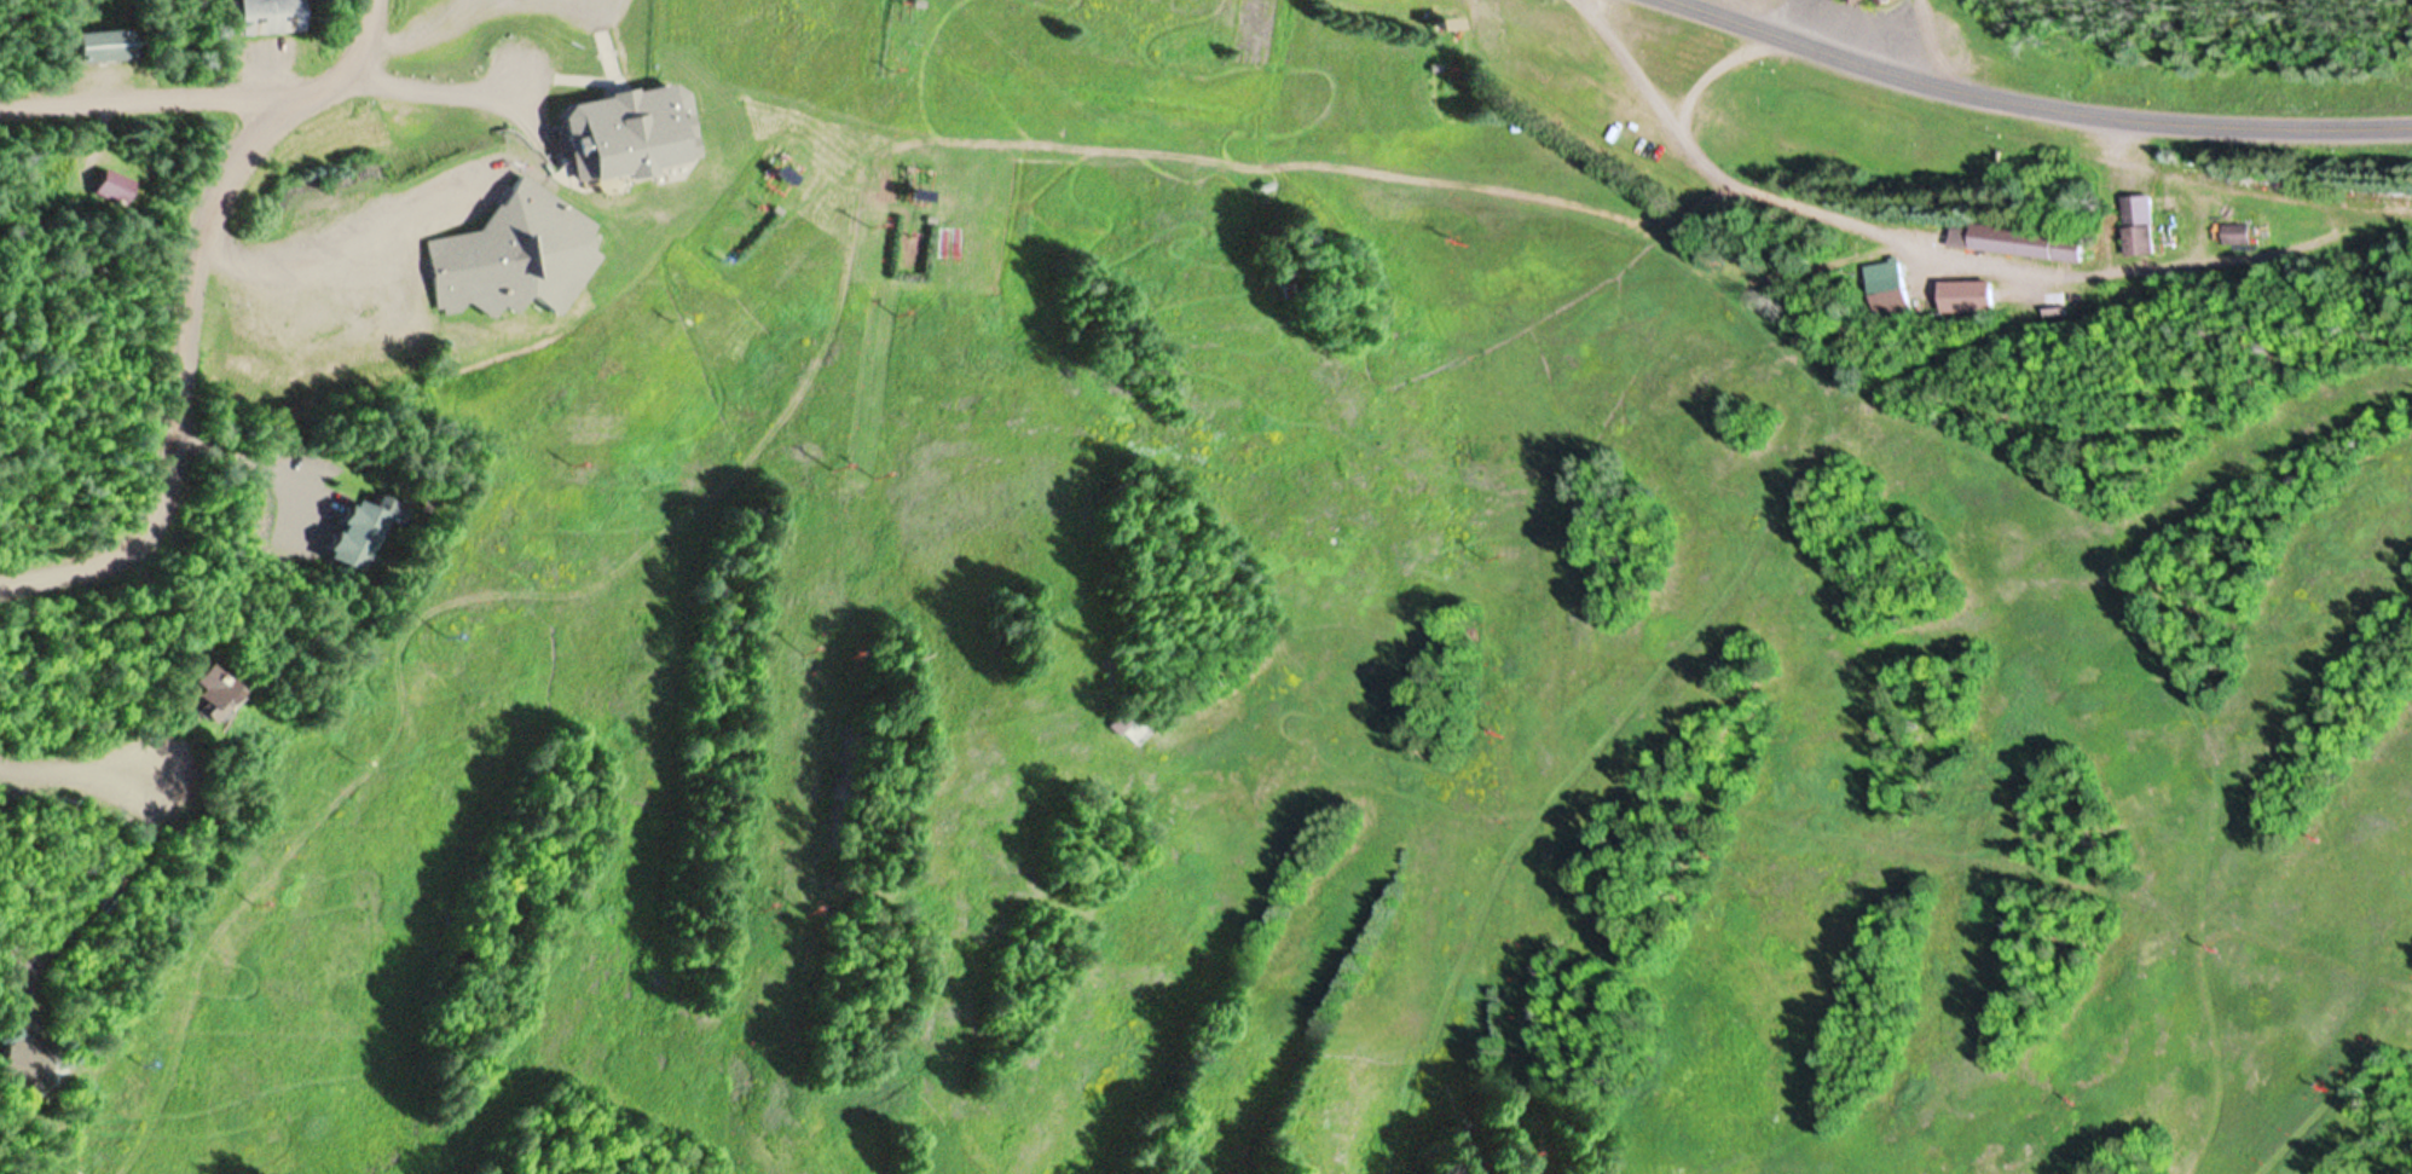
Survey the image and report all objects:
building: (1856, 1)
building: (1881, 1)
parking lot: (590, 6)
building: (1185, 6)
building: (262, 16)
parking lot: (427, 22)
building: (99, 46)
road: (2051, 96)
road: (144, 105)
building: (613, 123)
building: (916, 180)
building: (112, 187)
aerialway pylon: (868, 214)
aerialway pylon: (1463, 225)
building: (2136, 227)
building: (2234, 235)
building: (2017, 243)
building: (504, 244)
parking lot: (339, 260)
building: (1884, 285)
building: (1963, 297)
road: (189, 313)
aerialway pylon: (679, 313)
aerialway pylon: (577, 458)
aerialway pylon: (832, 458)
aerialway pylon: (878, 467)
aerialway pylon: (1483, 533)
building: (353, 537)
ski resort: (1205, 586)
aerialway pylon: (453, 630)
aerialway pylon: (804, 642)
aerialway pylon: (850, 648)
building: (204, 696)
aerialway pylon: (1496, 718)
building: (1135, 731)
aerialway pylon: (365, 754)
road: (85, 776)
aerialway pylon: (2315, 832)
aerialway pylon: (768, 890)
aerialway pylon: (262, 898)
aerialway pylon: (814, 898)
aerialway pylon: (2213, 942)
aerialway pylon: (150, 1057)
building: (17, 1060)
aerialway pylon: (2324, 1085)
aerialway pylon: (2067, 1097)
aerialway pylon: (1525, 1150)
aerialway pylon: (70, 1169)

